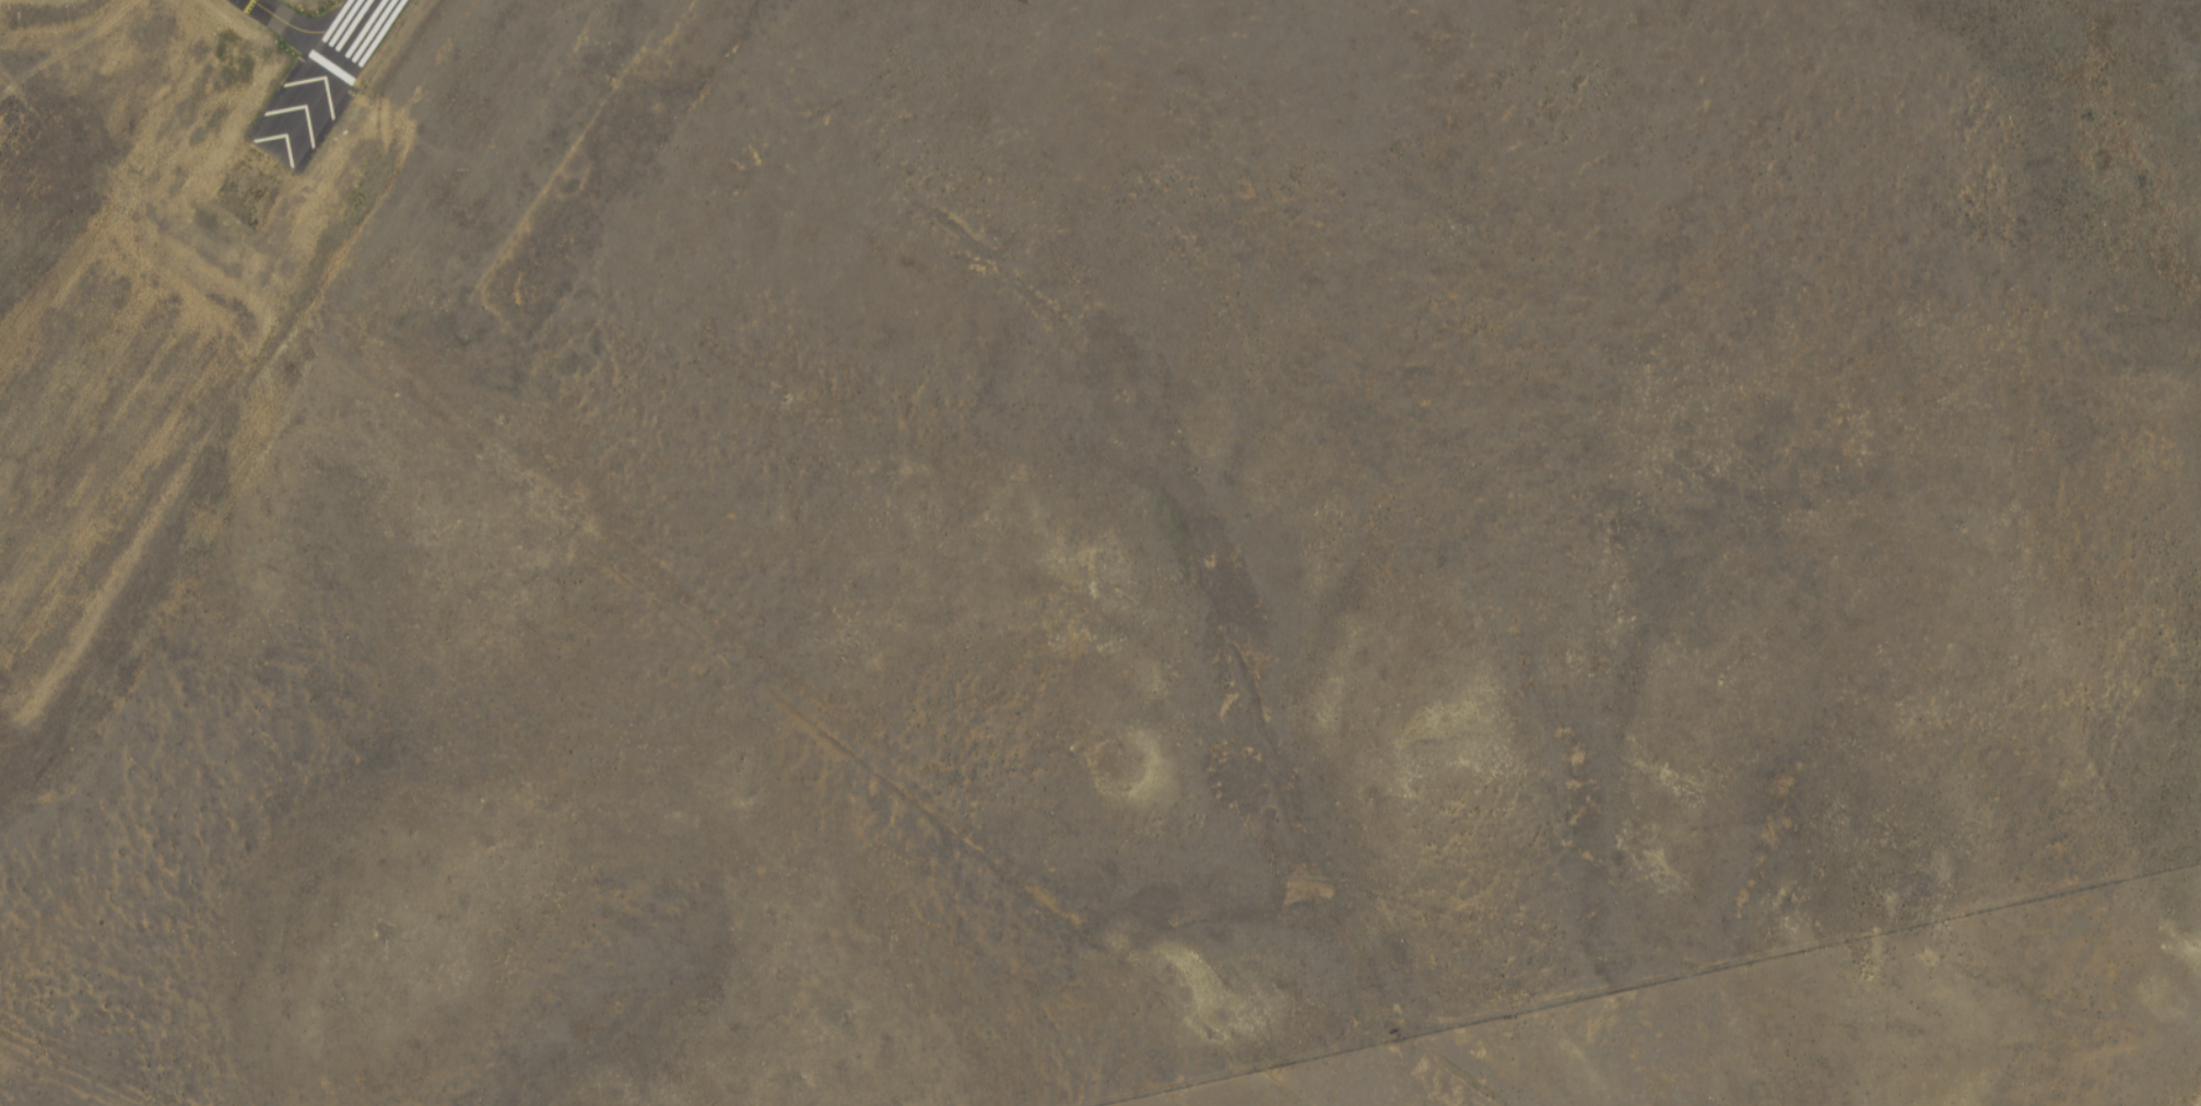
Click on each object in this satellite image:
airport taxiway: (289, 28)
airport runway: (350, 34)
airport: (1058, 526)
road: (1634, 981)
road: (61, 1074)

